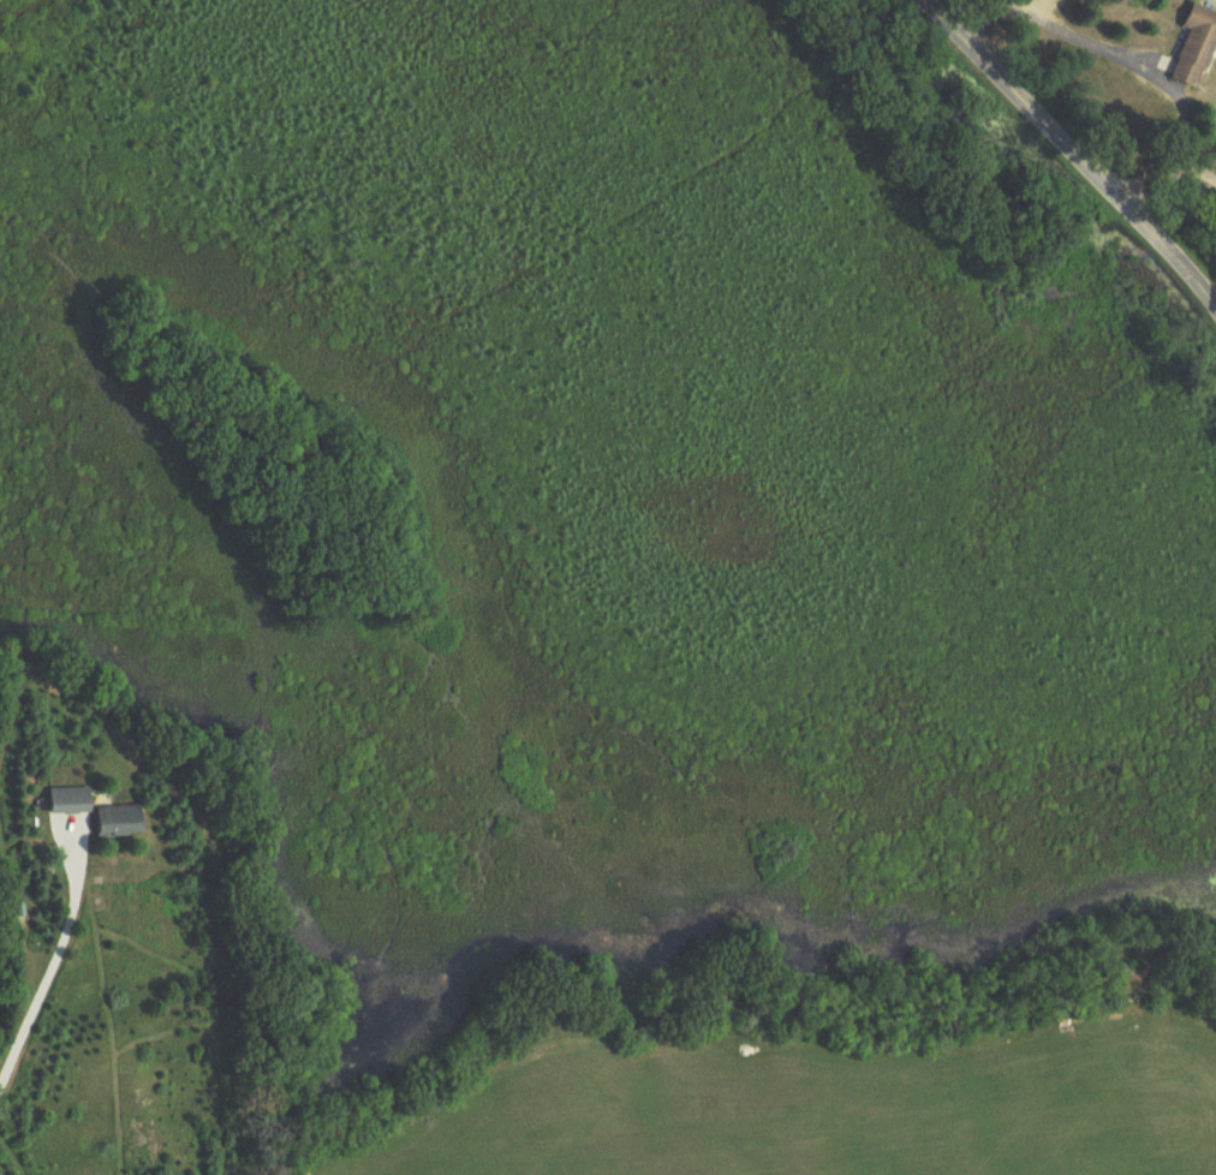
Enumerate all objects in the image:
road: (1027, 5)
road: (1103, 48)
building: (1199, 50)
road: (1069, 154)
road: (1161, 174)
building: (74, 800)
building: (124, 821)
road: (53, 962)

